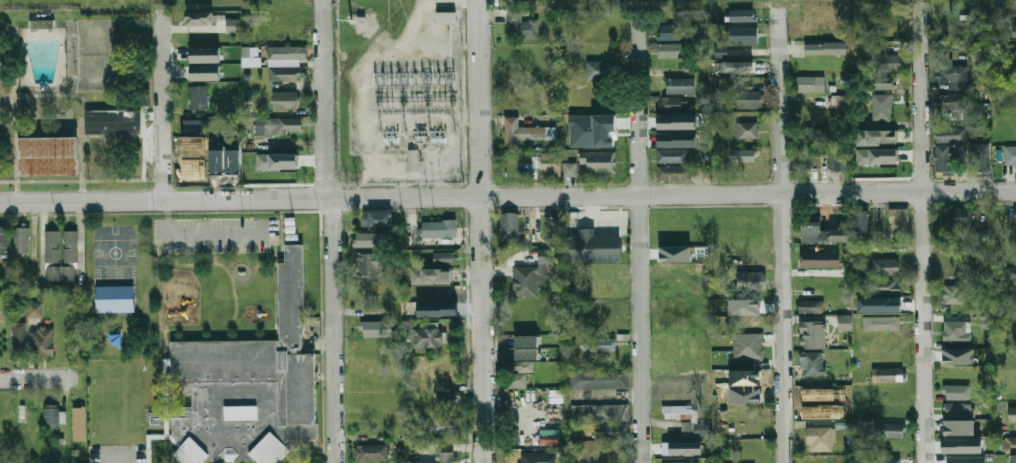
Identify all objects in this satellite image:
road: (629, 3)
building: (741, 14)
building: (200, 17)
building: (447, 19)
building: (42, 24)
building: (522, 25)
building: (1014, 29)
building: (669, 32)
building: (742, 34)
building: (814, 49)
building: (669, 50)
building: (204, 54)
building: (889, 62)
building: (285, 64)
building: (746, 67)
building: (602, 70)
building: (949, 71)
building: (204, 72)
building: (884, 82)
building: (809, 83)
building: (679, 85)
power substation: (398, 90)
building: (198, 97)
building: (747, 99)
road: (163, 100)
building: (285, 100)
building: (668, 101)
building: (952, 104)
building: (881, 107)
building: (113, 120)
building: (605, 121)
building: (676, 121)
building: (277, 125)
building: (194, 126)
building: (745, 129)
building: (524, 131)
building: (949, 133)
building: (875, 137)
building: (676, 139)
building: (742, 154)
building: (672, 155)
building: (1010, 155)
building: (50, 156)
building: (876, 156)
building: (980, 157)
building: (805, 158)
building: (945, 158)
building: (837, 159)
building: (277, 161)
building: (535, 161)
building: (598, 161)
building: (550, 163)
building: (569, 169)
road: (507, 198)
building: (1014, 214)
building: (954, 216)
building: (376, 218)
building: (897, 221)
building: (860, 222)
building: (509, 225)
building: (437, 228)
building: (552, 228)
road: (332, 230)
road: (483, 231)
road: (783, 231)
building: (812, 231)
road: (925, 231)
parking lot: (215, 234)
road: (641, 234)
building: (839, 234)
road: (198, 235)
road: (79, 237)
building: (3, 238)
building: (21, 239)
road: (41, 239)
building: (369, 239)
building: (51, 246)
building: (70, 246)
building: (592, 246)
park: (115, 251)
building: (674, 254)
building: (819, 259)
building: (885, 266)
building: (368, 267)
building: (434, 270)
building: (60, 272)
building: (1010, 272)
building: (531, 274)
building: (750, 280)
building: (884, 286)
building: (951, 293)
building: (114, 298)
building: (1015, 299)
building: (811, 306)
building: (34, 309)
building: (844, 322)
building: (880, 323)
building: (376, 328)
building: (955, 331)
building: (813, 334)
building: (17, 335)
building: (426, 335)
building: (42, 342)
building: (599, 344)
building: (747, 346)
building: (526, 347)
building: (957, 356)
building: (812, 363)
building: (518, 372)
building: (888, 374)
building: (600, 376)
road: (36, 379)
building: (251, 386)
building: (957, 391)
building: (446, 398)
building: (958, 409)
building: (600, 412)
building: (1012, 413)
building: (53, 415)
building: (685, 419)
building: (78, 423)
building: (447, 425)
building: (958, 427)
building: (888, 430)
building: (609, 431)
building: (820, 438)
building: (1008, 444)
building: (961, 445)
building: (681, 448)
building: (370, 452)
parking lot: (117, 453)
road: (118, 455)
building: (446, 457)
building: (1013, 458)
building: (886, 459)
building: (675, 461)

